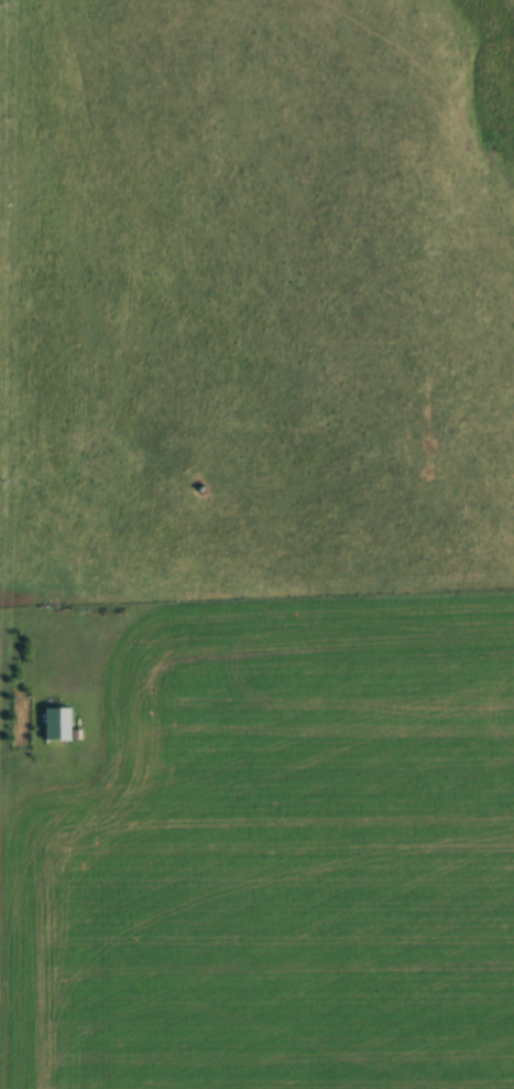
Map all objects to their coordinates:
building: (94, 755)

